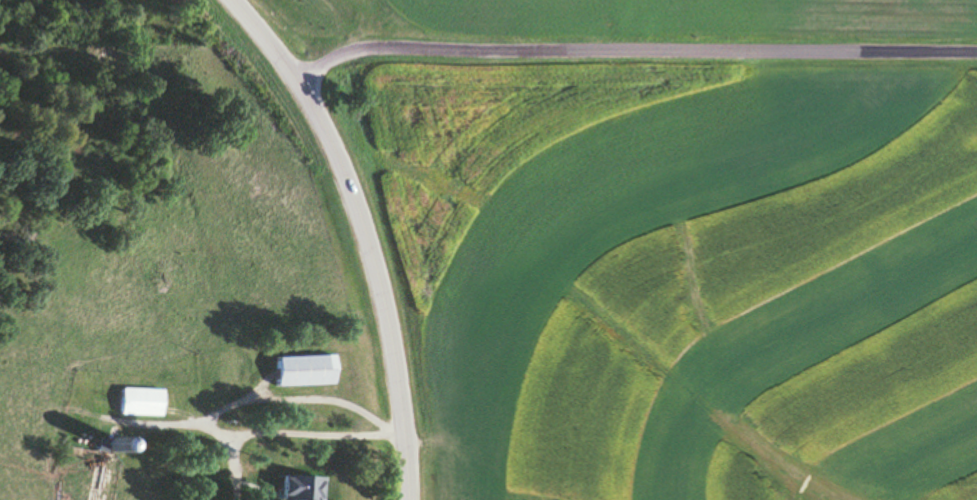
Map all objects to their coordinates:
road: (631, 54)
road: (360, 233)
building: (186, 370)
building: (303, 371)
building: (239, 378)
building: (138, 402)
building: (108, 446)
building: (300, 489)

